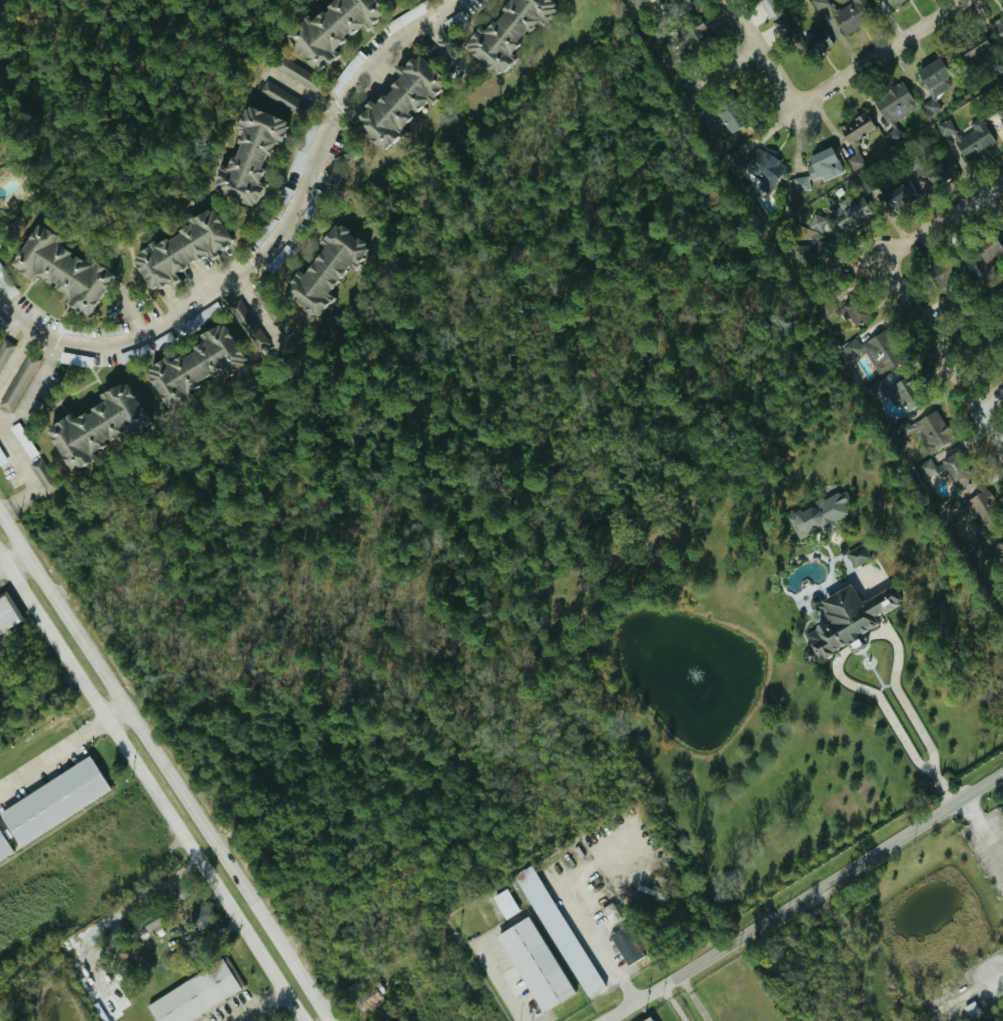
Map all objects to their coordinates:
building: (890, 2)
building: (768, 8)
building: (843, 15)
building: (328, 29)
building: (997, 29)
building: (502, 32)
building: (785, 34)
building: (694, 35)
road: (444, 44)
building: (972, 47)
road: (763, 53)
road: (882, 53)
road: (719, 67)
building: (932, 78)
building: (299, 79)
building: (278, 101)
building: (394, 103)
building: (929, 107)
building: (893, 110)
building: (1001, 118)
building: (964, 138)
building: (851, 146)
building: (245, 157)
building: (815, 169)
building: (763, 170)
building: (937, 174)
building: (891, 194)
building: (849, 213)
road: (942, 220)
building: (985, 249)
building: (176, 250)
road: (266, 252)
building: (807, 256)
building: (320, 270)
building: (56, 271)
building: (851, 312)
road: (131, 313)
building: (280, 324)
building: (4, 350)
building: (872, 352)
road: (942, 354)
road: (17, 365)
building: (193, 365)
building: (16, 382)
building: (886, 394)
road: (989, 397)
building: (94, 427)
building: (928, 427)
road: (25, 469)
building: (940, 469)
building: (967, 506)
road: (6, 512)
building: (817, 515)
building: (855, 556)
road: (17, 561)
road: (4, 569)
building: (6, 616)
building: (847, 618)
road: (85, 643)
building: (853, 643)
road: (77, 669)
road: (841, 677)
road: (924, 742)
road: (62, 746)
building: (50, 800)
road: (984, 827)
building: (3, 850)
road: (249, 897)
road: (807, 897)
road: (226, 903)
building: (502, 904)
building: (558, 933)
building: (623, 945)
road: (606, 946)
building: (532, 963)
road: (988, 975)
road: (500, 983)
park: (49, 993)
building: (192, 995)
road: (703, 995)
road: (257, 1007)
building: (645, 1019)

